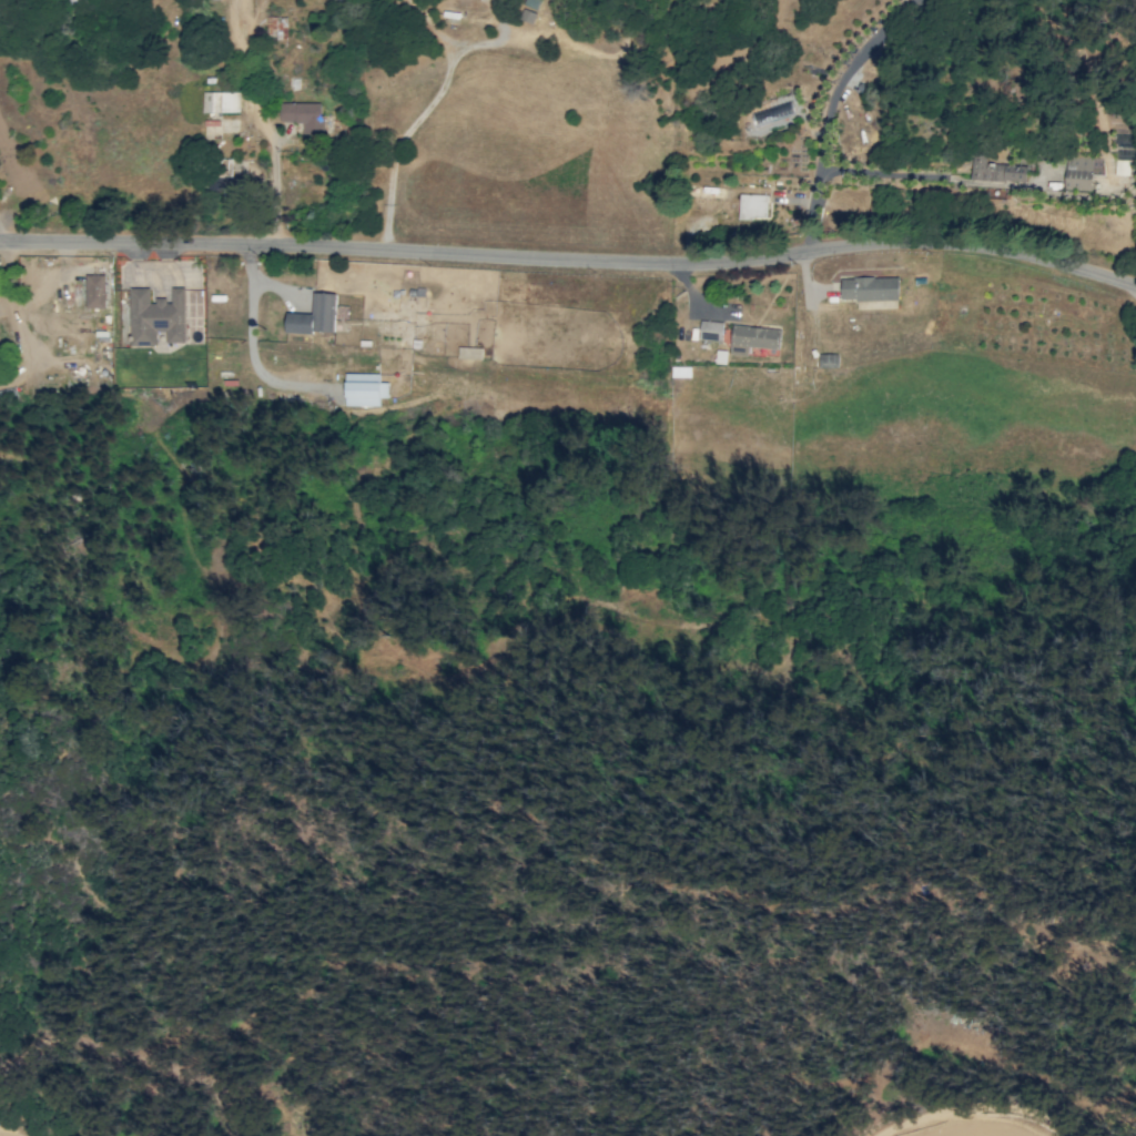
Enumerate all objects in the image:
building: (531, 3)
building: (528, 16)
building: (277, 27)
building: (221, 101)
road: (826, 113)
building: (303, 115)
building: (1120, 166)
building: (996, 171)
building: (1082, 171)
building: (226, 175)
building: (753, 205)
road: (3, 235)
road: (571, 261)
building: (94, 291)
building: (315, 315)
building: (156, 316)
building: (711, 329)
building: (753, 338)
road: (253, 349)
building: (469, 352)
building: (828, 359)
building: (364, 389)
crop: (964, 1130)
crop: (0, 1135)

